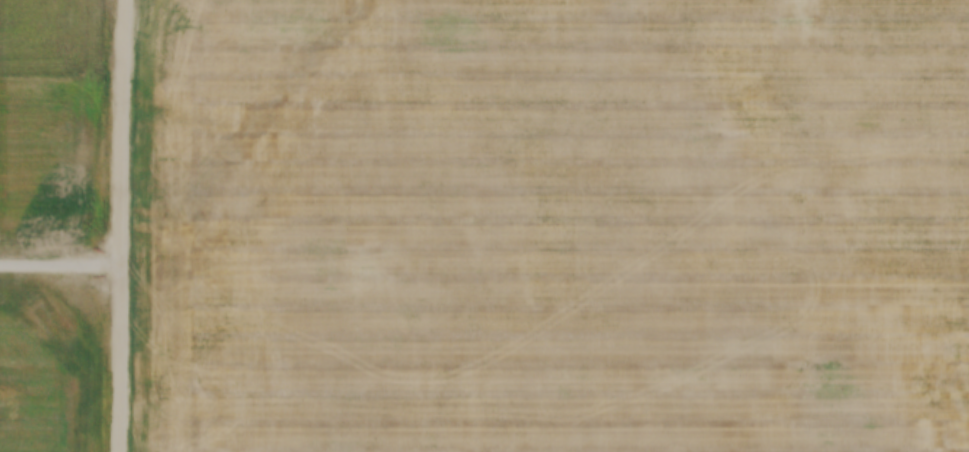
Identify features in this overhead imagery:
road: (123, 226)

